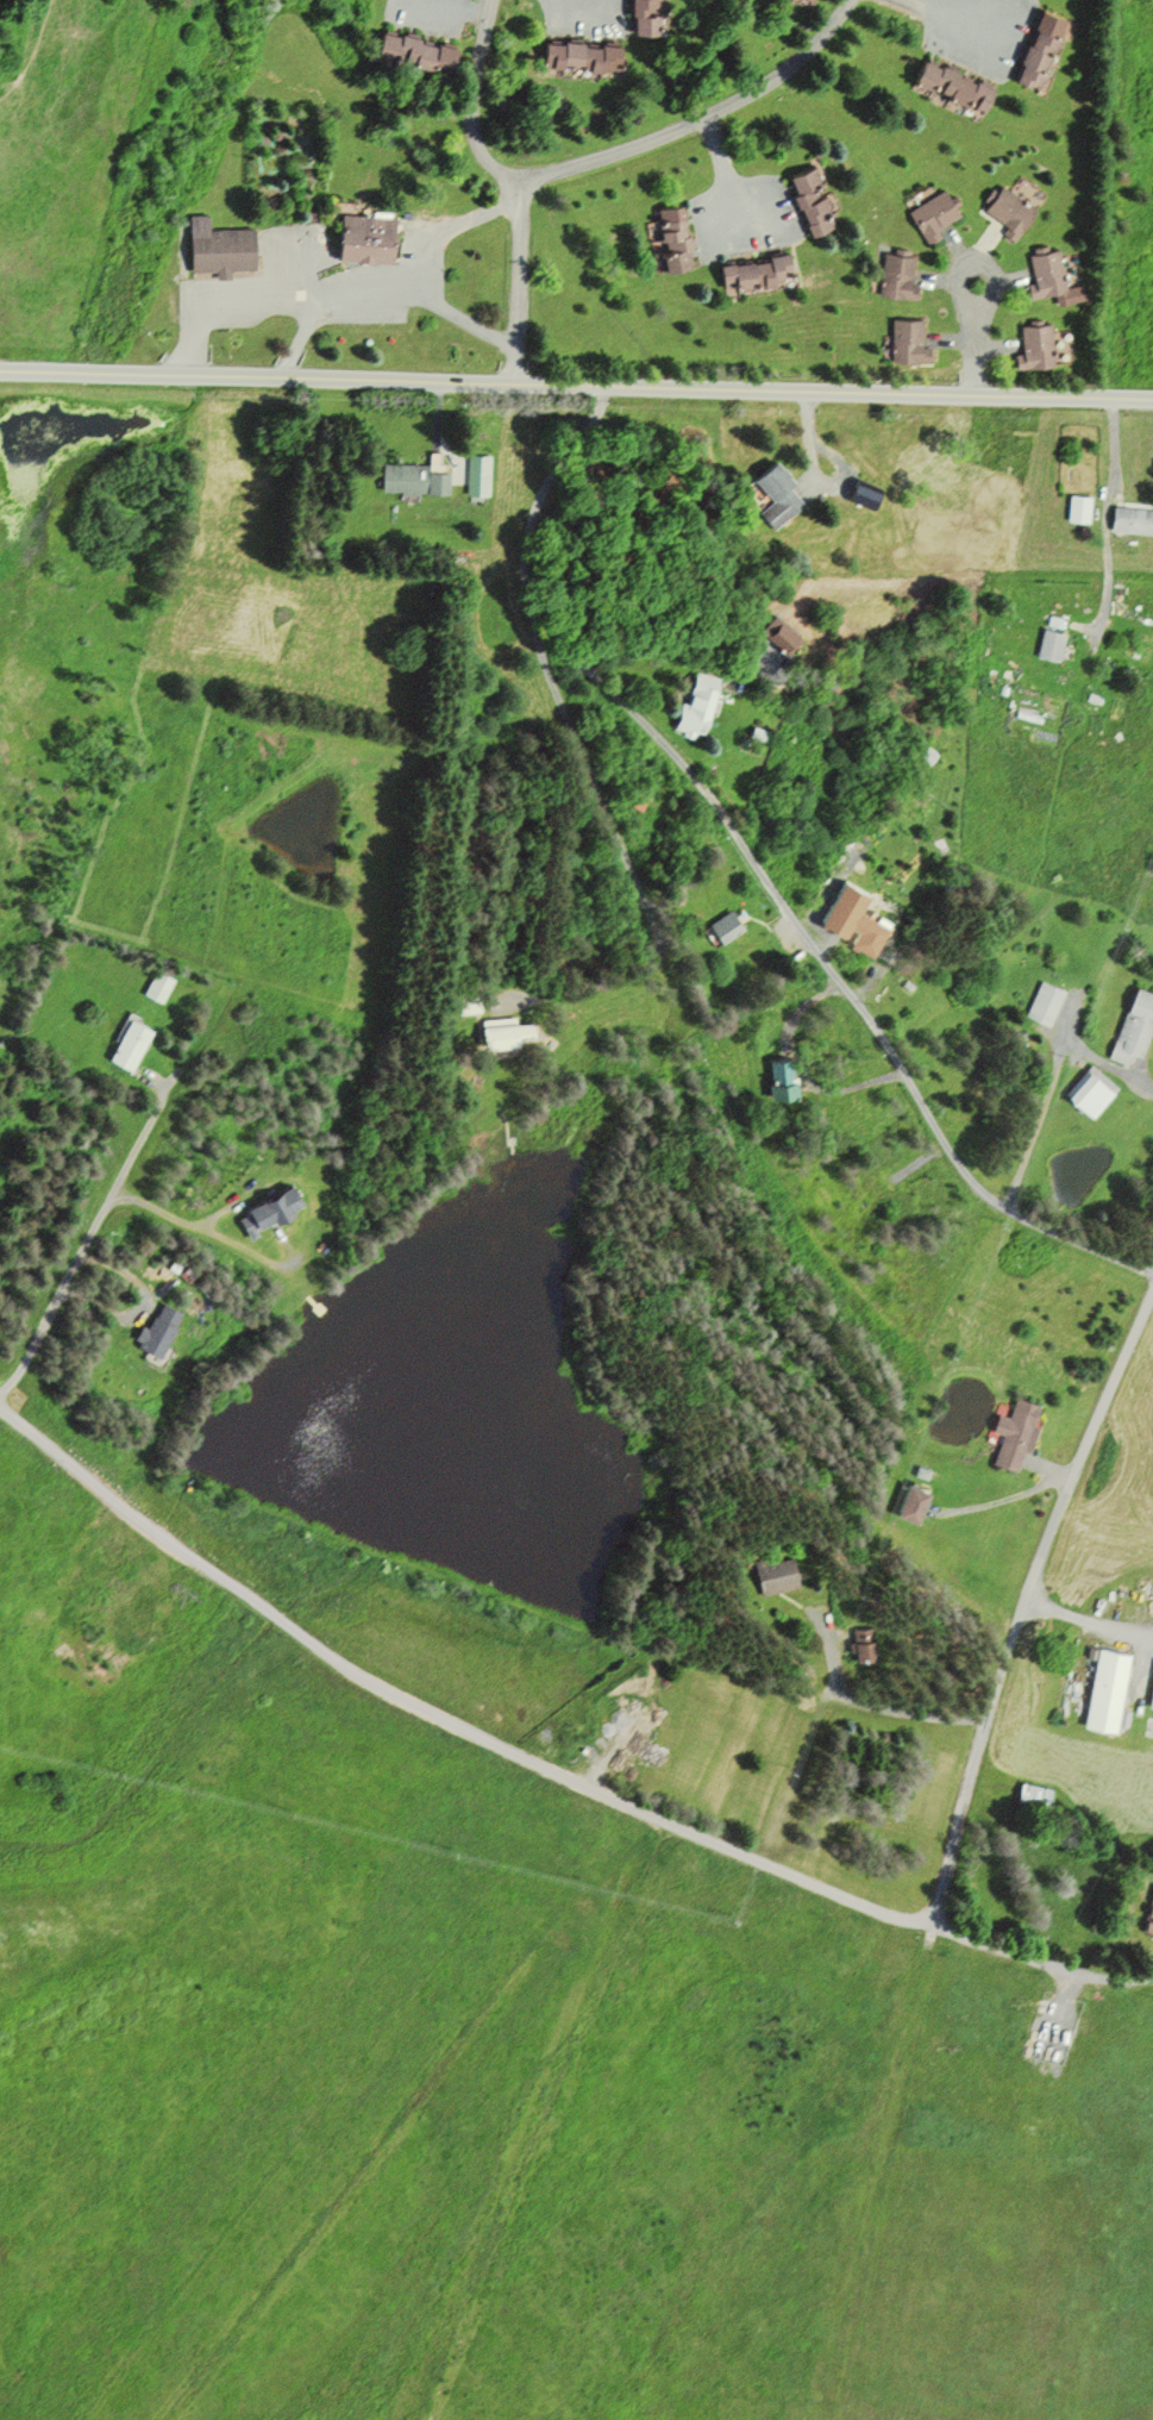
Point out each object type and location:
building: (798, 1)
road: (459, 7)
building: (641, 17)
road: (953, 21)
building: (401, 49)
building: (1035, 49)
building: (582, 57)
building: (947, 86)
road: (604, 154)
road: (726, 174)
building: (813, 199)
building: (1007, 212)
building: (932, 215)
building: (364, 233)
building: (671, 237)
building: (217, 244)
road: (975, 261)
building: (753, 273)
building: (1045, 274)
building: (896, 276)
road: (519, 277)
building: (907, 342)
building: (1035, 346)
road: (972, 362)
road: (576, 382)
building: (477, 474)
building: (412, 477)
building: (775, 493)
building: (1077, 507)
road: (1098, 514)
building: (1130, 518)
road: (632, 643)
building: (1048, 643)
building: (697, 698)
road: (762, 870)
road: (633, 896)
building: (847, 915)
building: (727, 927)
building: (159, 987)
building: (1044, 1001)
building: (1133, 1023)
building: (503, 1033)
building: (130, 1044)
building: (778, 1076)
building: (1089, 1089)
road: (111, 1192)
building: (272, 1205)
building: (1014, 1431)
building: (907, 1500)
road: (998, 1500)
building: (775, 1574)
road: (1023, 1596)
road: (1086, 1619)
building: (861, 1643)
building: (1105, 1689)
building: (1151, 1693)
road: (885, 1708)
road: (541, 1765)
building: (1148, 1915)
road: (1147, 1980)
building: (1021, 2151)

